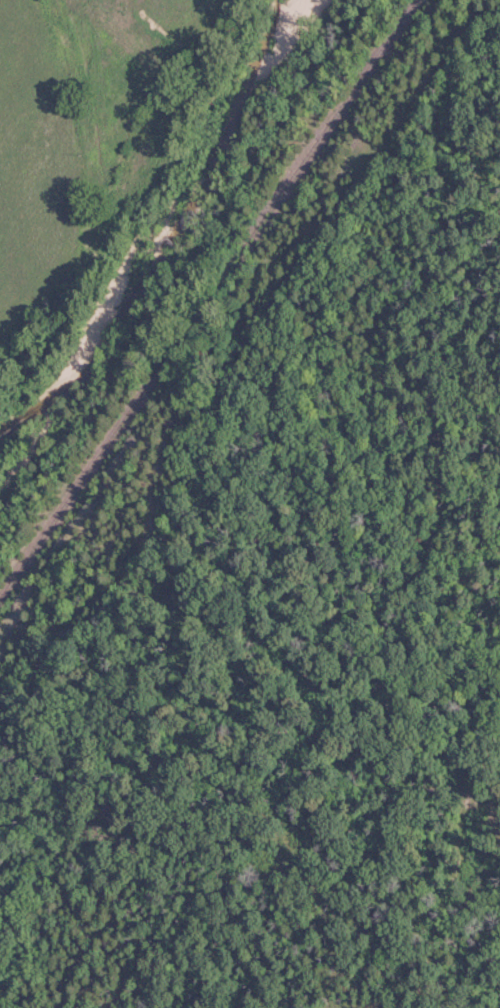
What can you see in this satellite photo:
railway: (208, 299)

